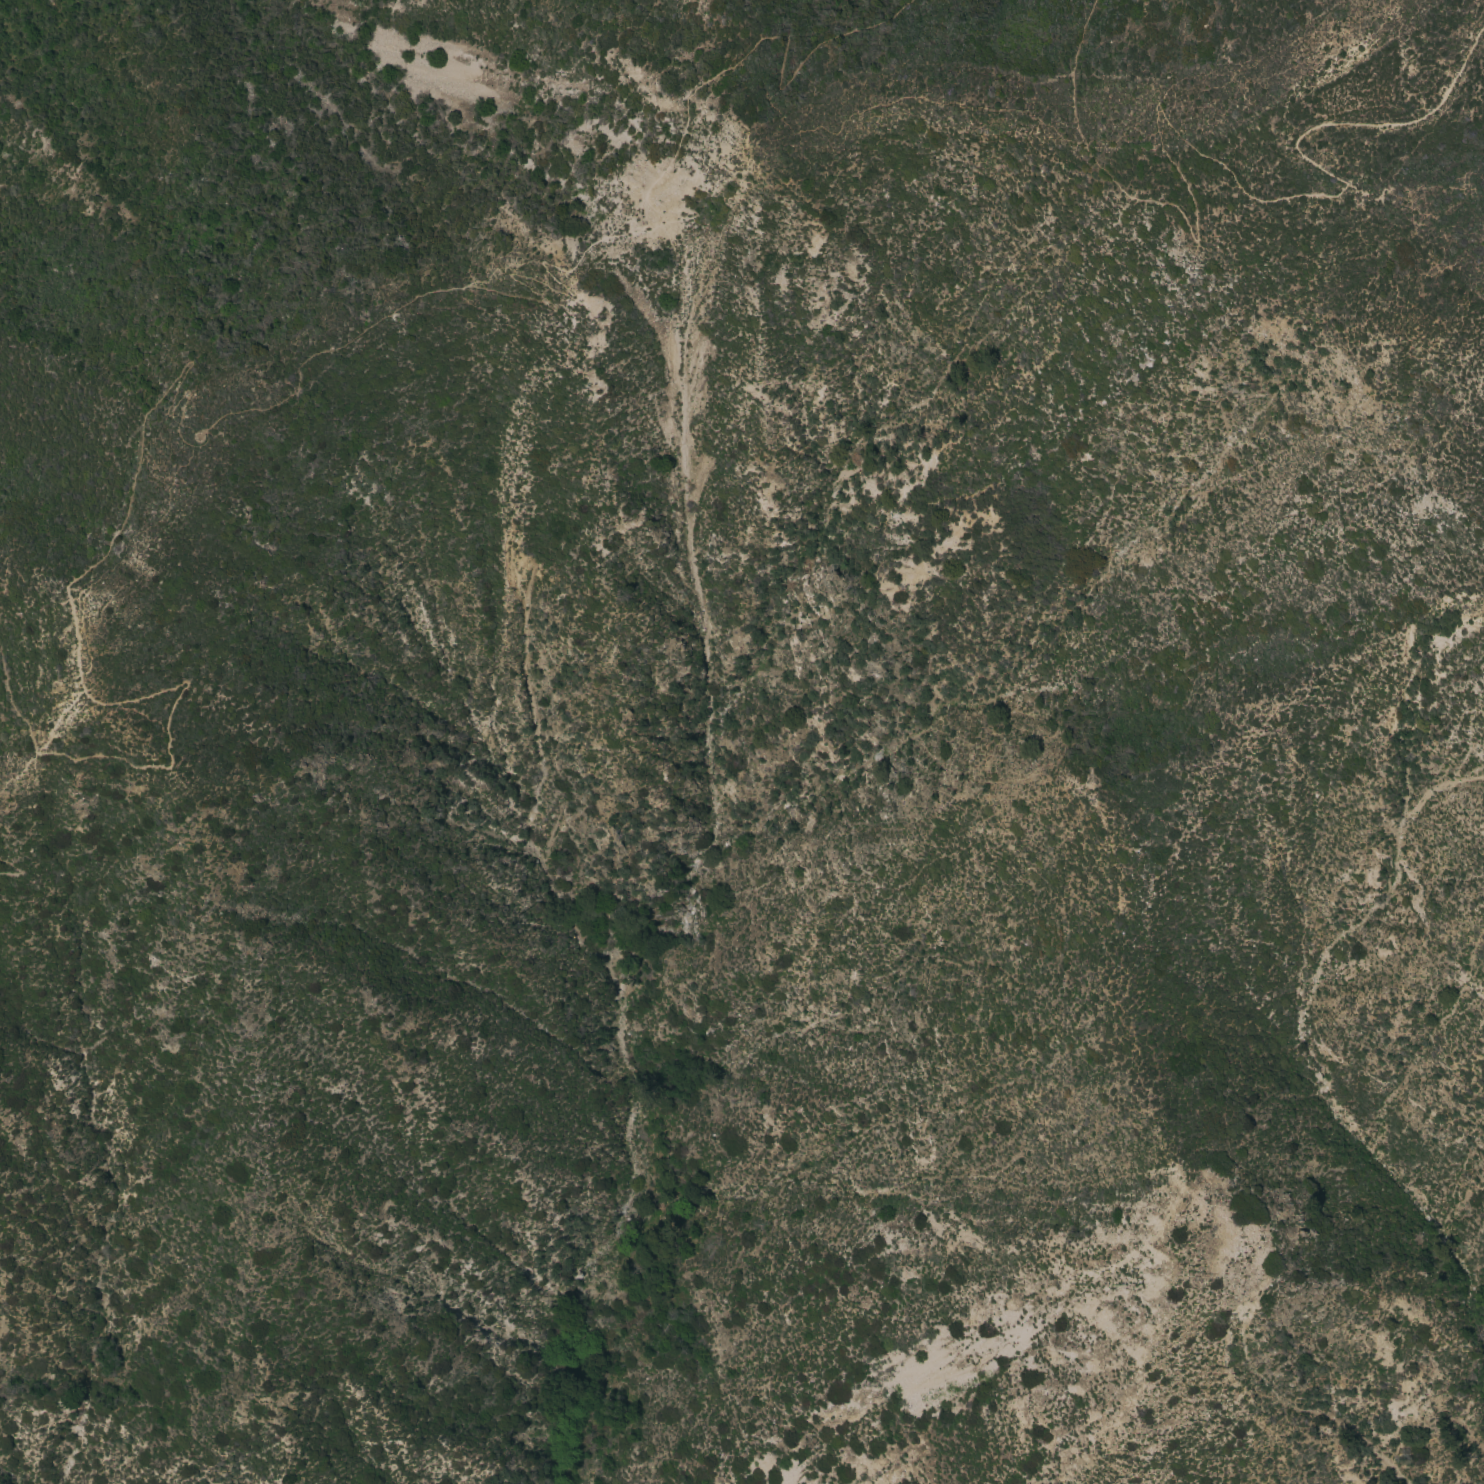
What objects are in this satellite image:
road: (1189, 156)
road: (300, 362)
road: (25, 872)

